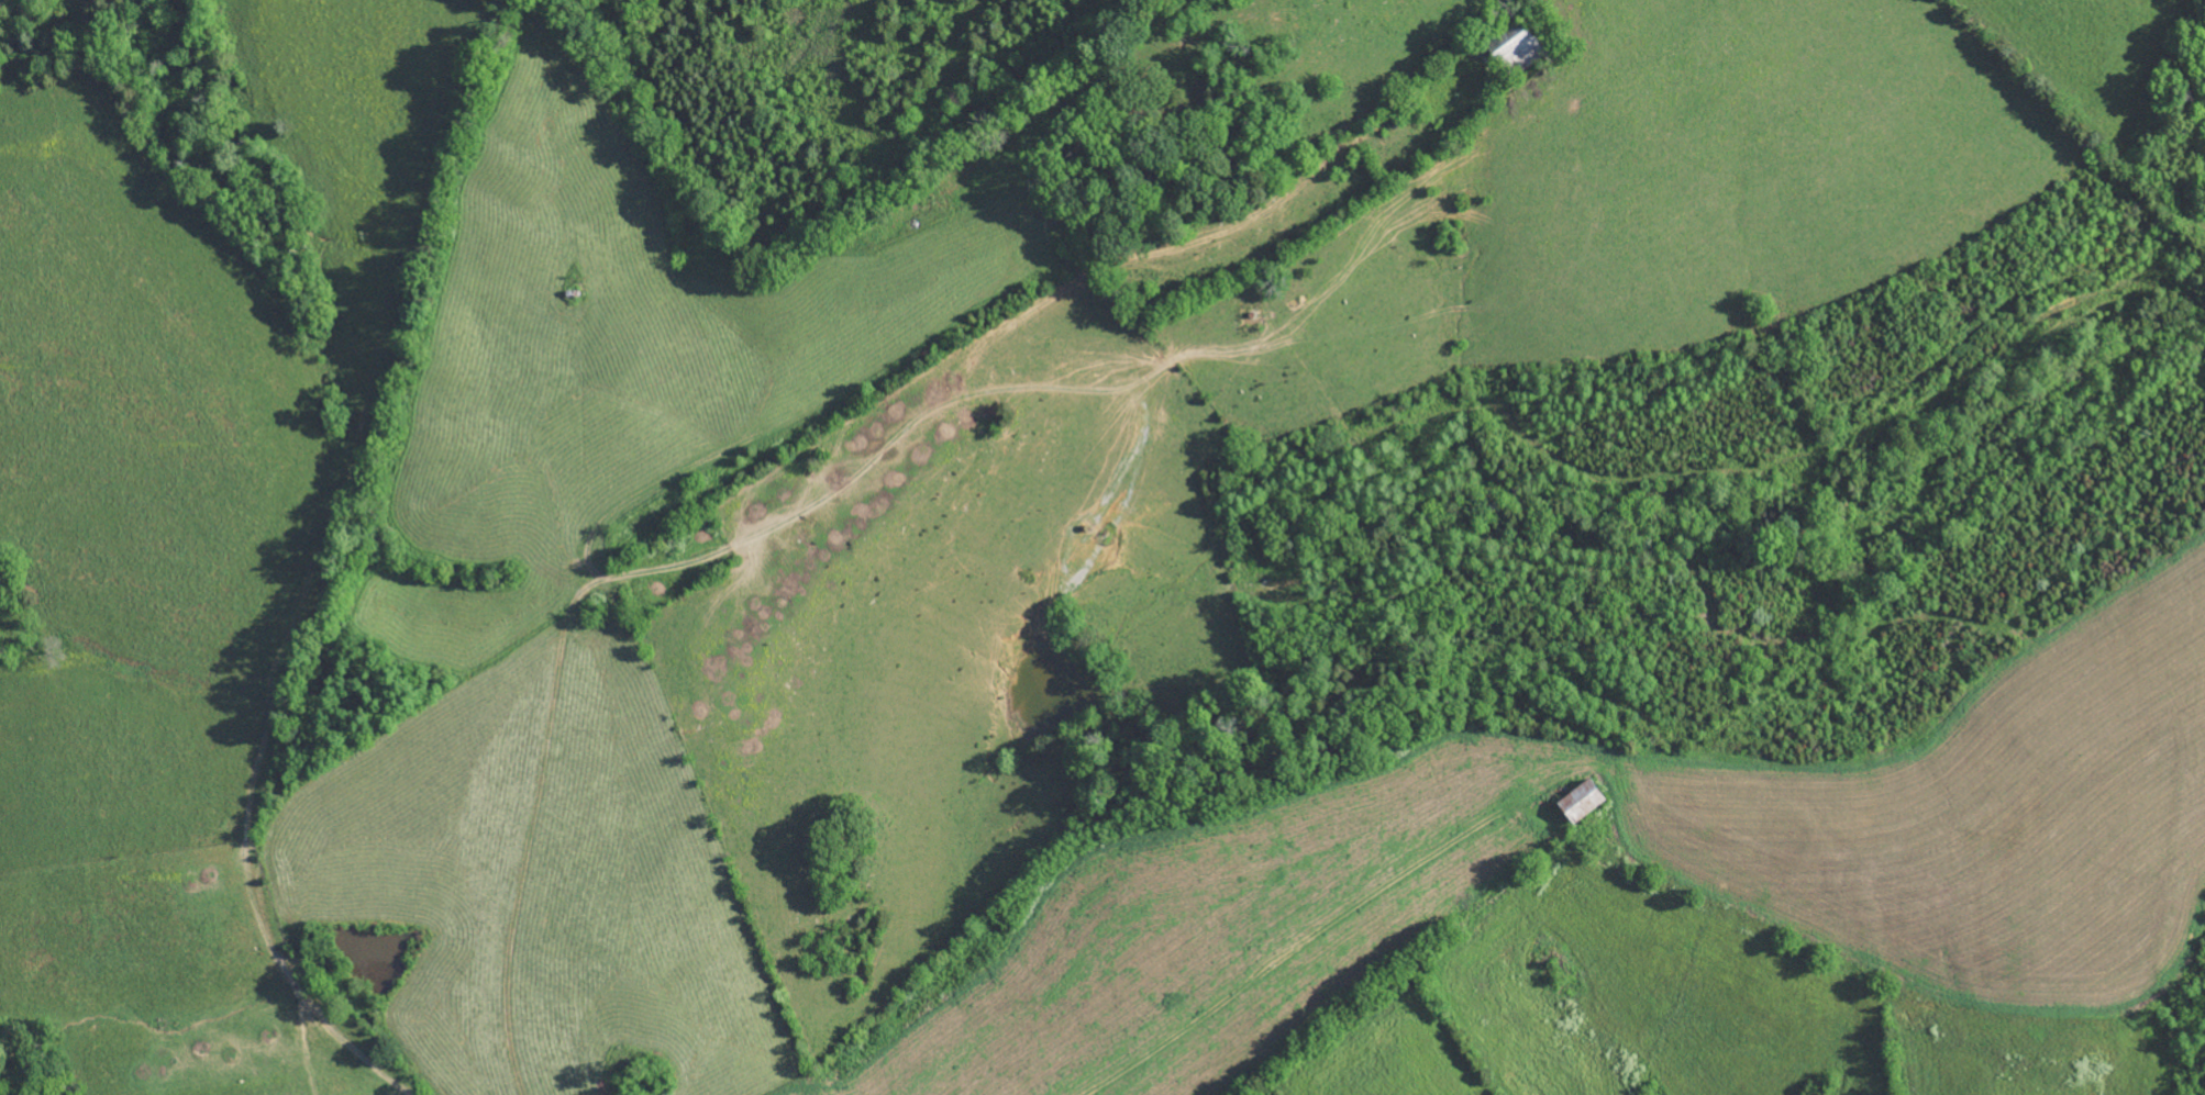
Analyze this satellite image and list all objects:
building: (1586, 802)

